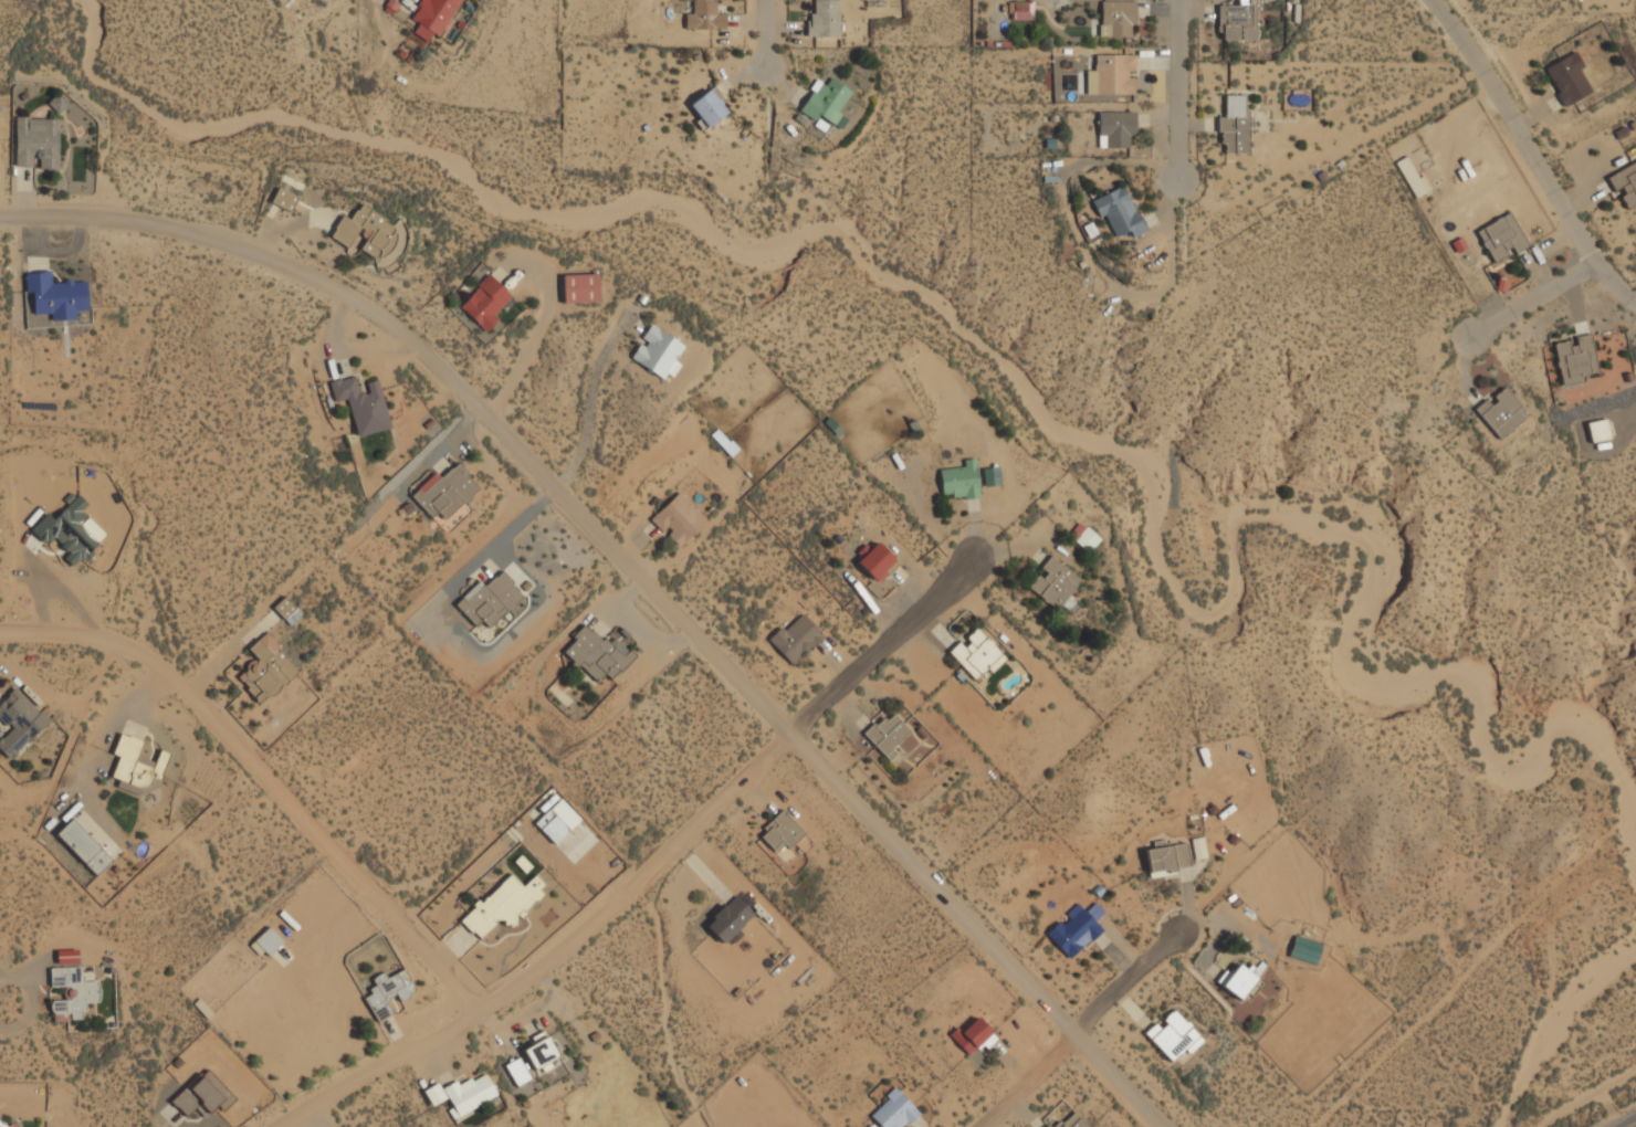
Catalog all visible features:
building: (1020, 11)
building: (704, 17)
building: (432, 18)
building: (1116, 18)
building: (824, 19)
building: (1238, 21)
road: (762, 32)
building: (1114, 74)
building: (1065, 78)
building: (1567, 78)
road: (1176, 88)
building: (826, 102)
building: (707, 108)
building: (1234, 125)
building: (1115, 129)
building: (36, 144)
road: (1532, 155)
building: (1625, 183)
building: (283, 199)
building: (1118, 212)
building: (365, 233)
building: (1501, 236)
building: (579, 288)
building: (55, 296)
road: (1532, 301)
building: (484, 303)
road: (529, 346)
building: (657, 352)
building: (1575, 360)
building: (361, 404)
road: (588, 412)
building: (1500, 412)
building: (1597, 431)
building: (959, 481)
building: (444, 492)
building: (678, 518)
building: (70, 531)
building: (1082, 537)
road: (633, 575)
building: (1053, 583)
building: (487, 600)
building: (286, 611)
building: (795, 639)
building: (597, 654)
building: (976, 654)
building: (265, 670)
building: (19, 723)
building: (887, 735)
building: (134, 766)
road: (265, 777)
building: (556, 821)
building: (780, 832)
building: (83, 847)
building: (1197, 847)
building: (784, 854)
building: (1166, 859)
road: (643, 873)
building: (502, 904)
building: (728, 920)
building: (266, 941)
building: (1236, 981)
building: (387, 992)
building: (72, 993)
road: (3, 1000)
road: (1080, 1028)
building: (971, 1035)
building: (1173, 1036)
building: (541, 1053)
building: (433, 1094)
building: (468, 1094)
building: (202, 1095)
building: (892, 1110)
building: (1071, 1121)
road: (1627, 1121)
building: (1, 1125)
building: (1047, 1126)

